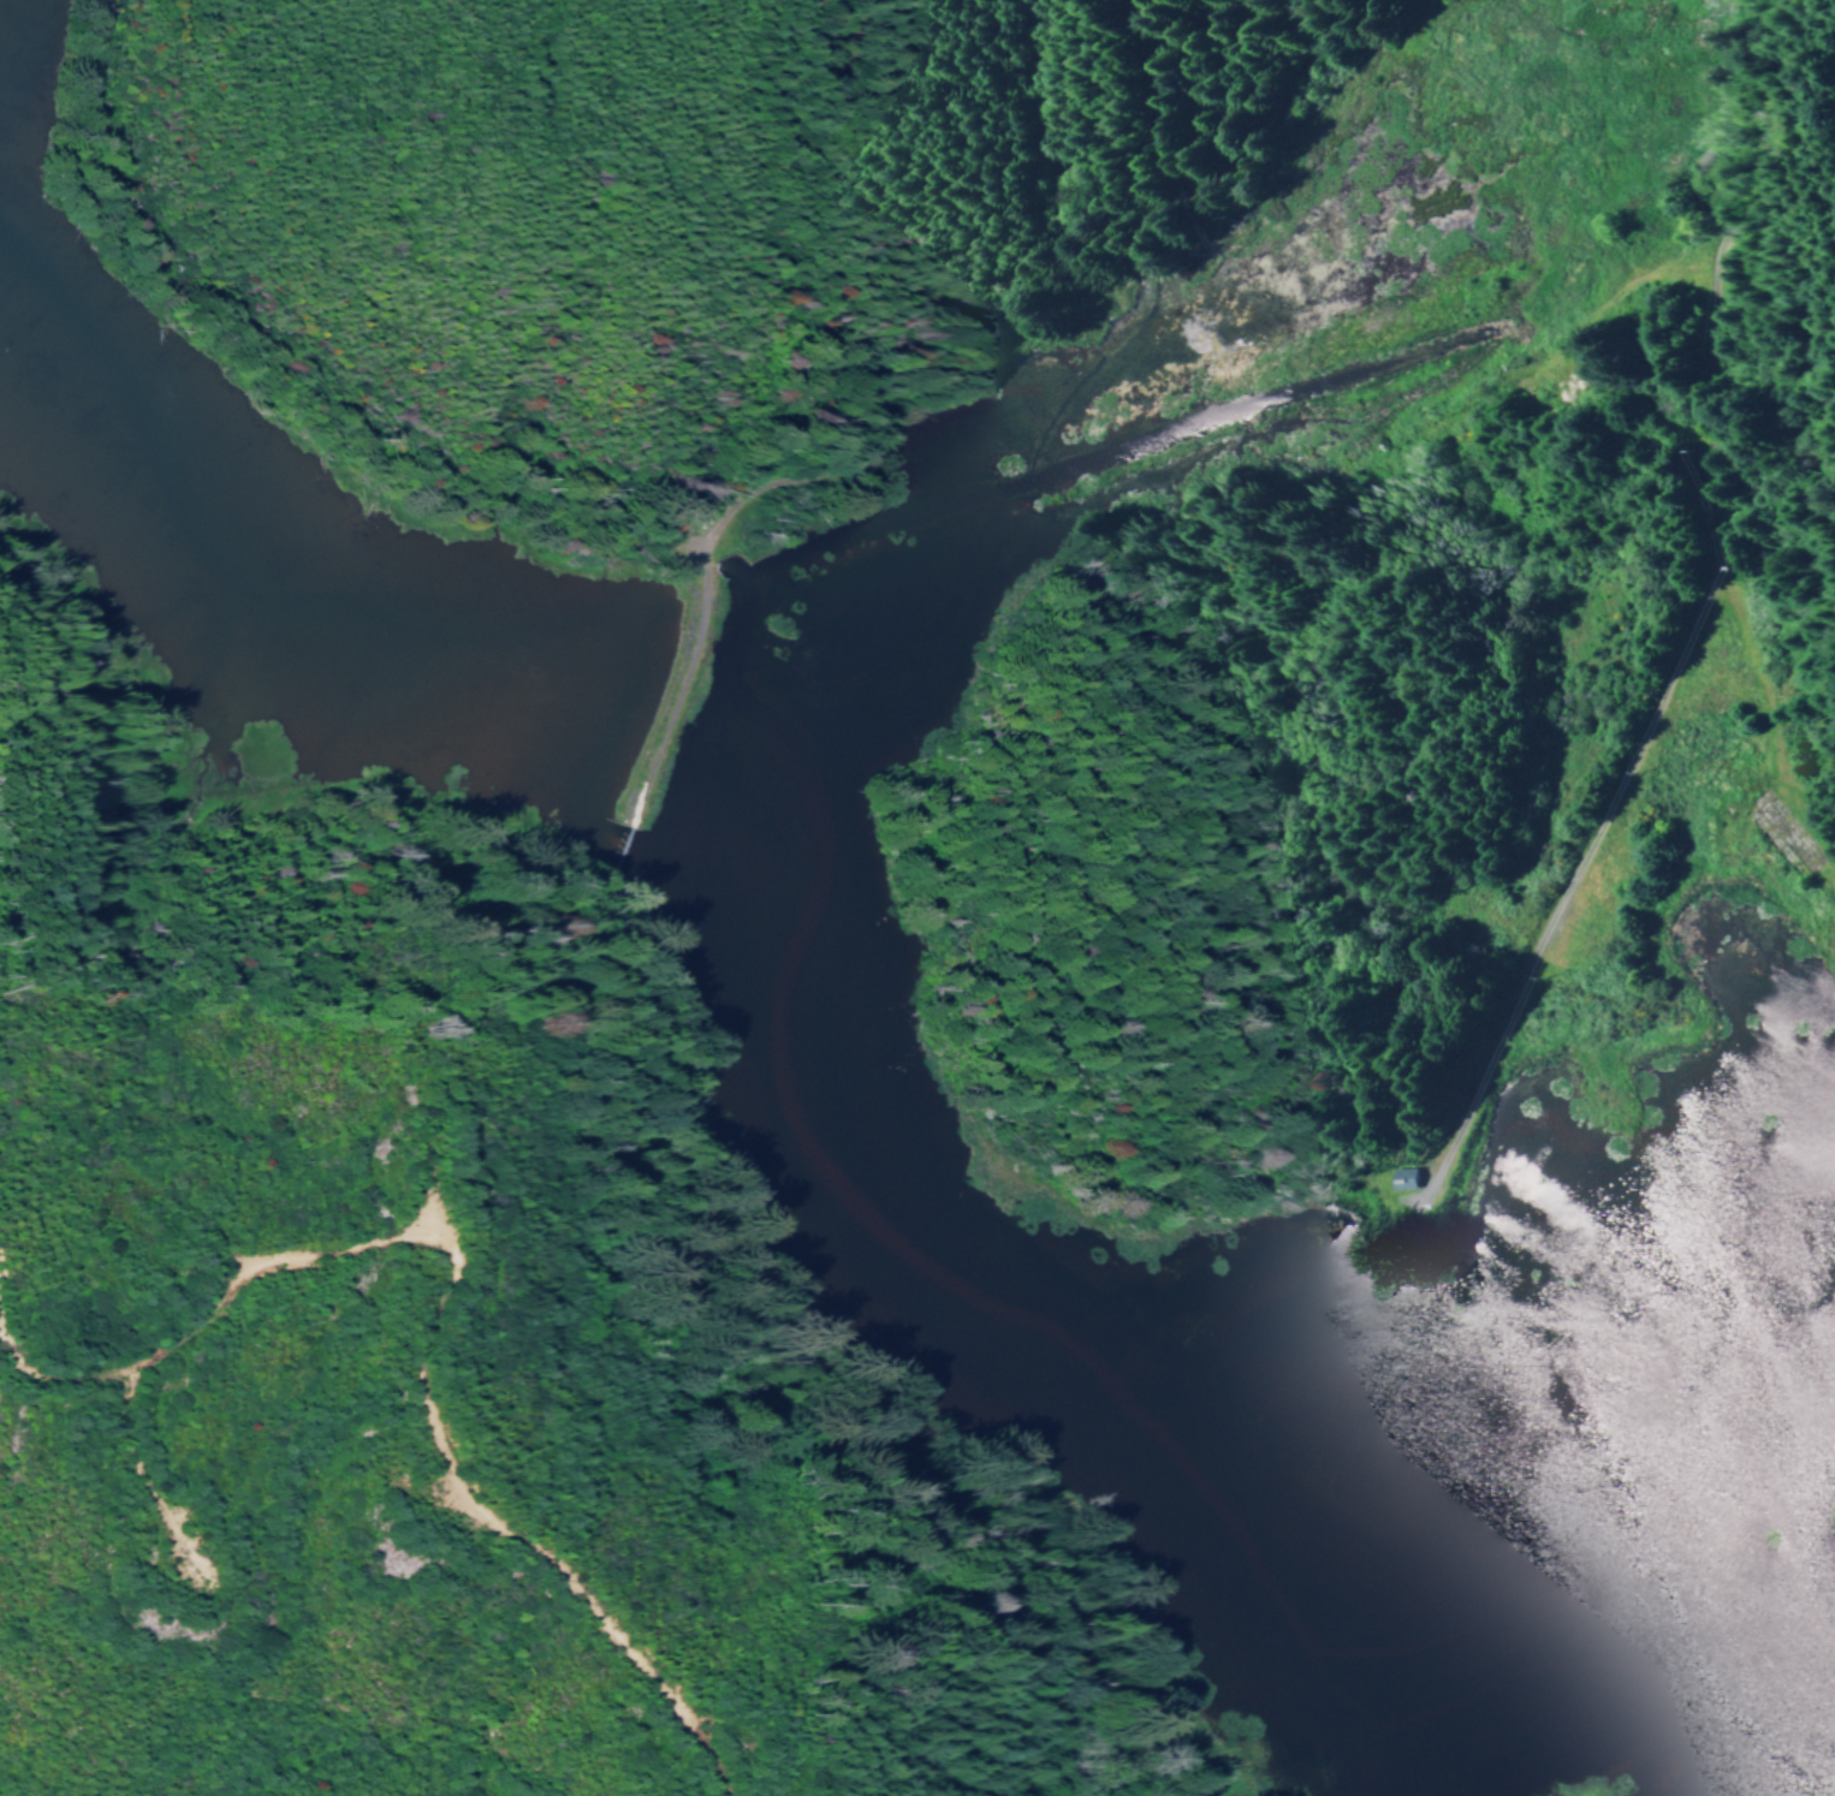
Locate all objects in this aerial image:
road: (1077, 225)
road: (1700, 281)
road: (1561, 864)
building: (1397, 1177)

